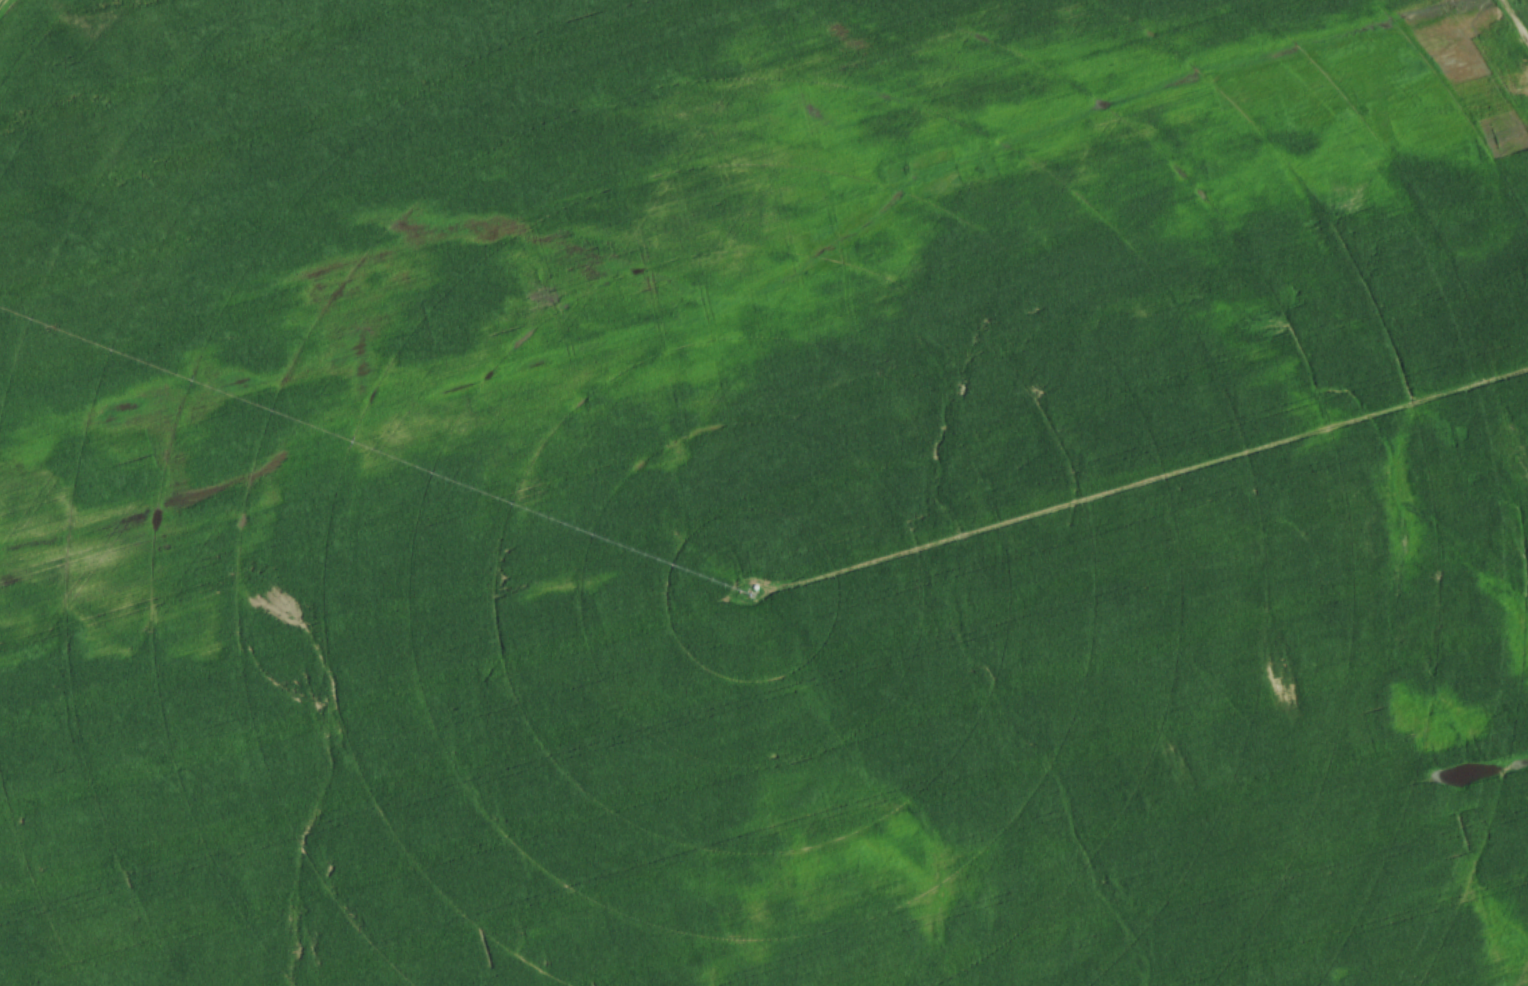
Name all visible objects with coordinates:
crop: (763, 493)

